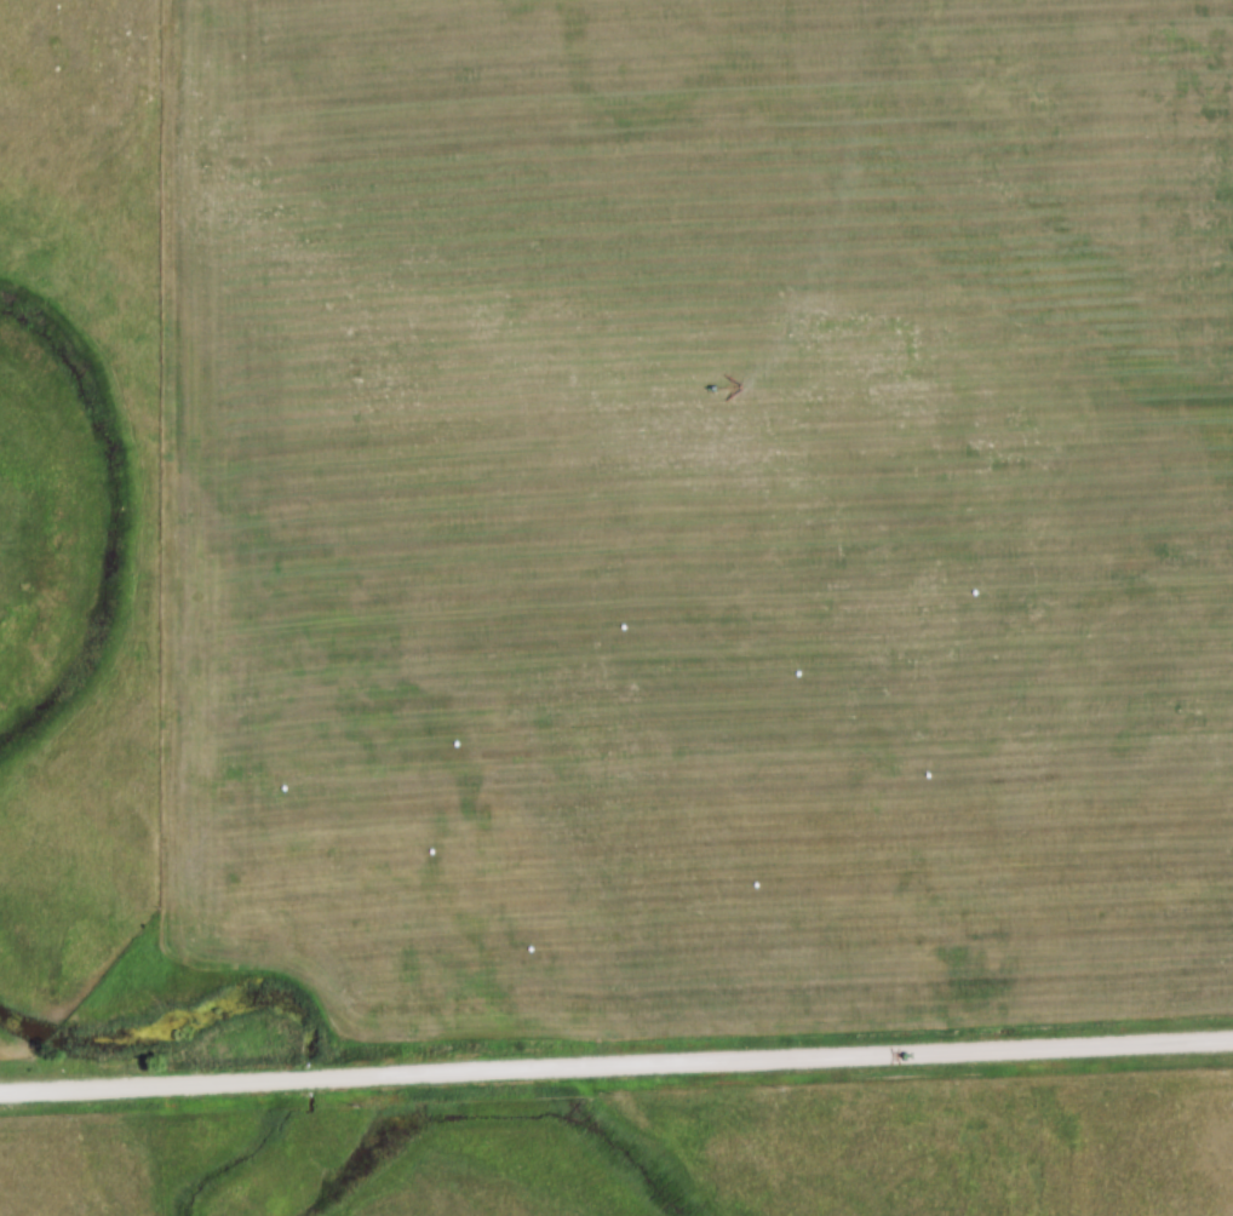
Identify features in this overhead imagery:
road: (615, 1065)

